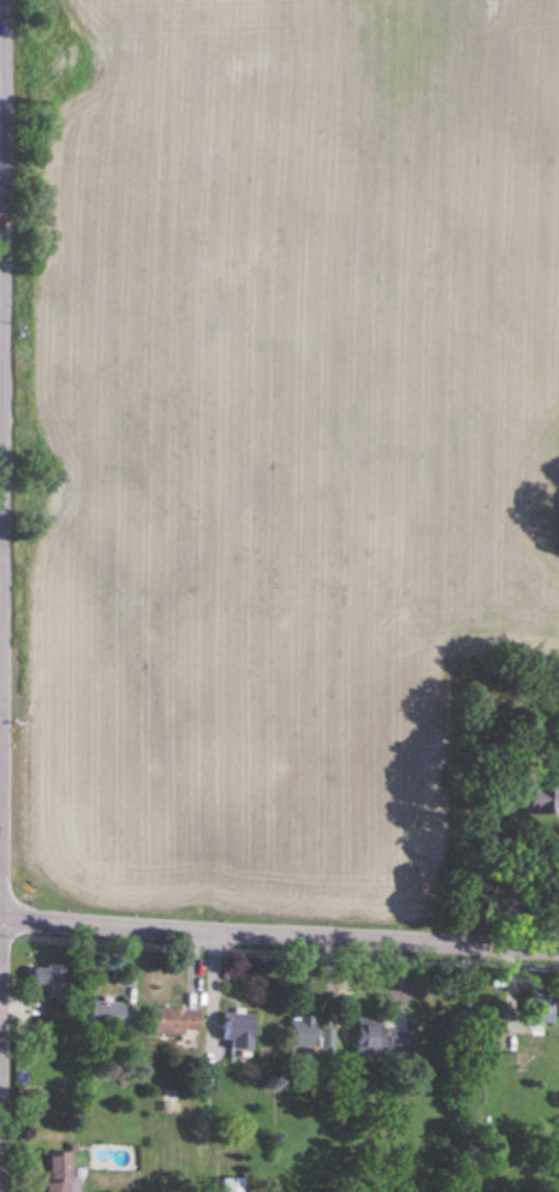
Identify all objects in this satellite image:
road: (2, 301)
road: (4, 393)
road: (0, 659)
building: (542, 795)
road: (279, 932)
building: (42, 979)
building: (537, 997)
building: (107, 1015)
building: (170, 1022)
building: (236, 1032)
building: (305, 1033)
building: (374, 1037)
building: (170, 1095)
building: (219, 1157)
building: (57, 1173)
building: (409, 1188)

